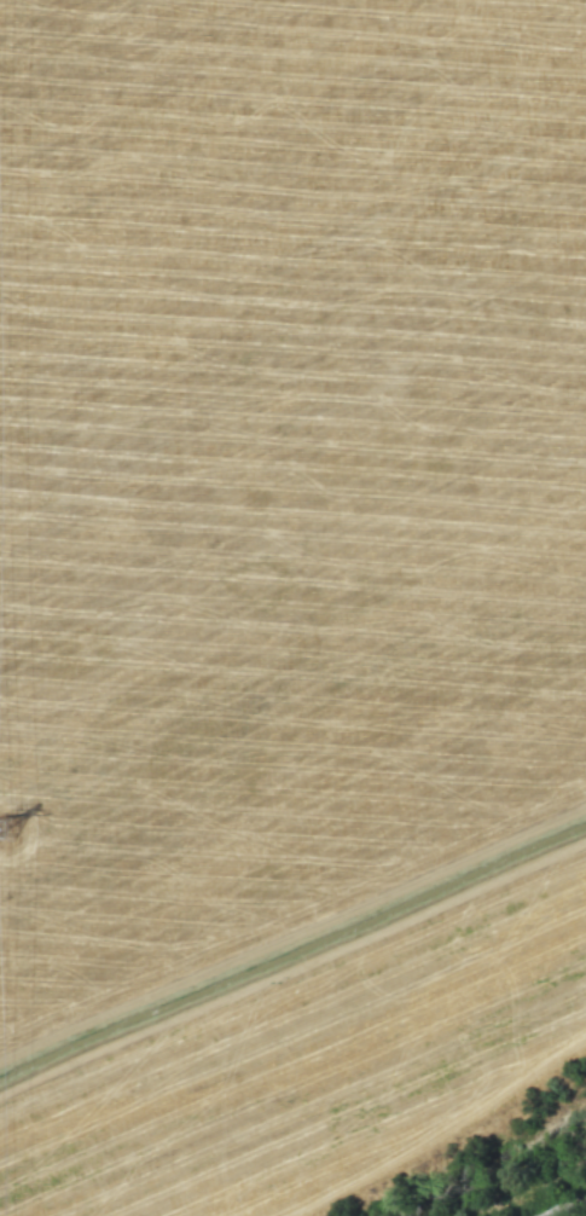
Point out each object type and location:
power tower: (2, 830)

